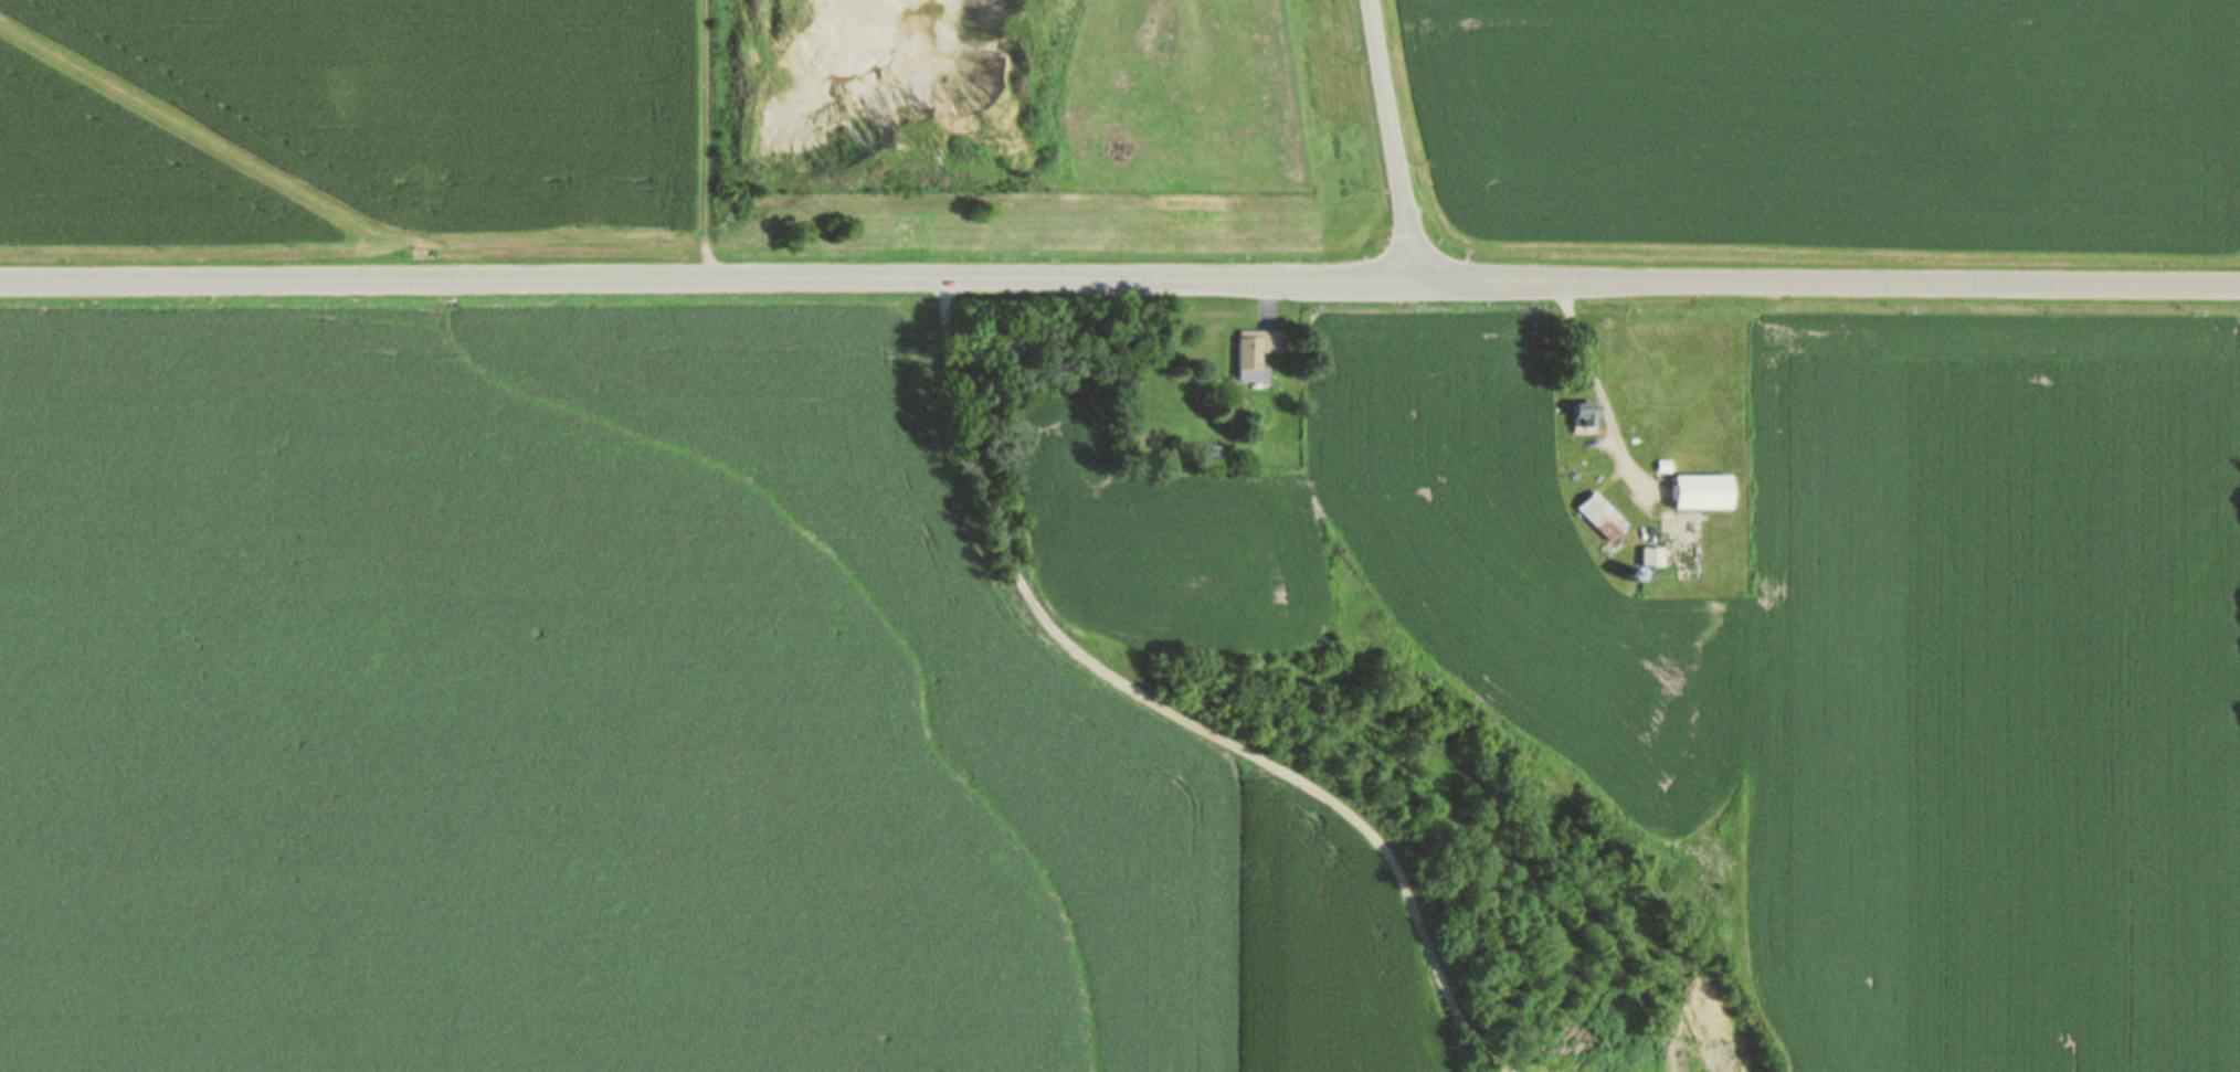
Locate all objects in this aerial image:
road: (707, 139)
road: (1396, 141)
road: (710, 279)
road: (1830, 285)
road: (1268, 303)
building: (1257, 352)
road: (1595, 381)
building: (1584, 413)
building: (1690, 497)
building: (1600, 516)
road: (1167, 711)

